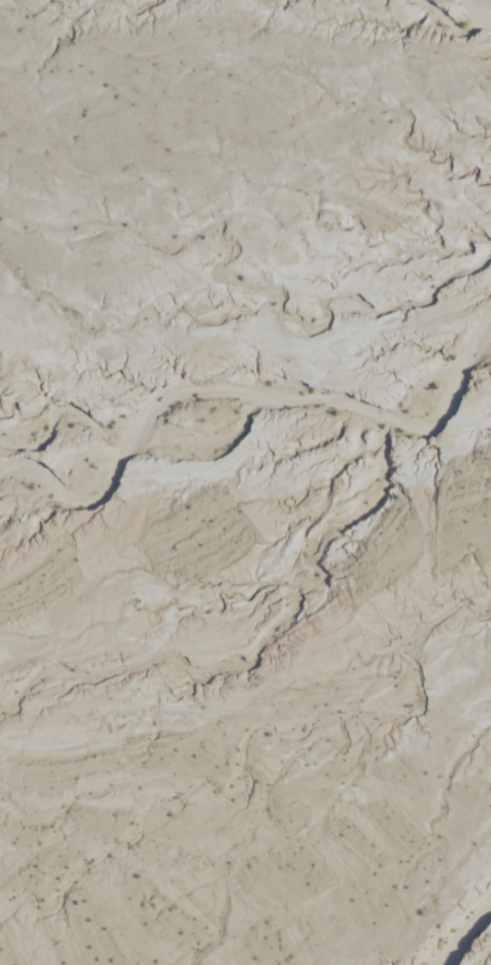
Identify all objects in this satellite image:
road: (485, 6)
road: (465, 936)

